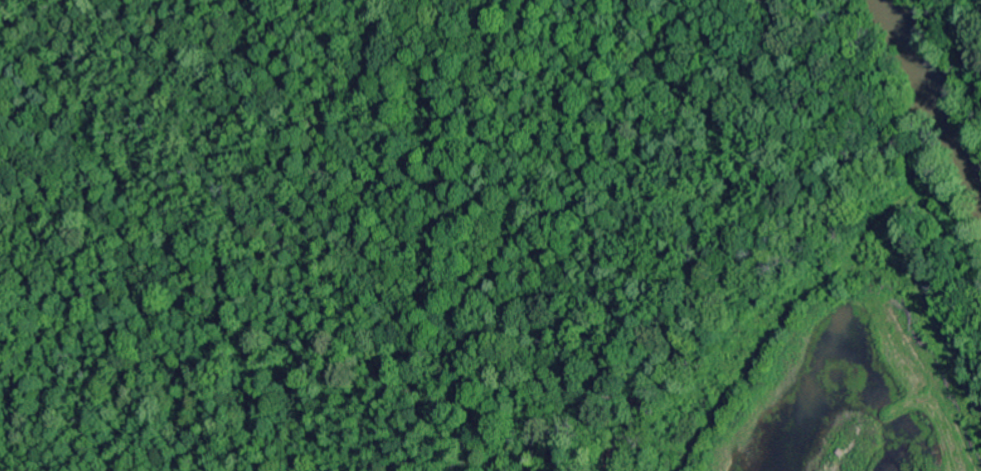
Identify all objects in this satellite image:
river: (935, 91)

